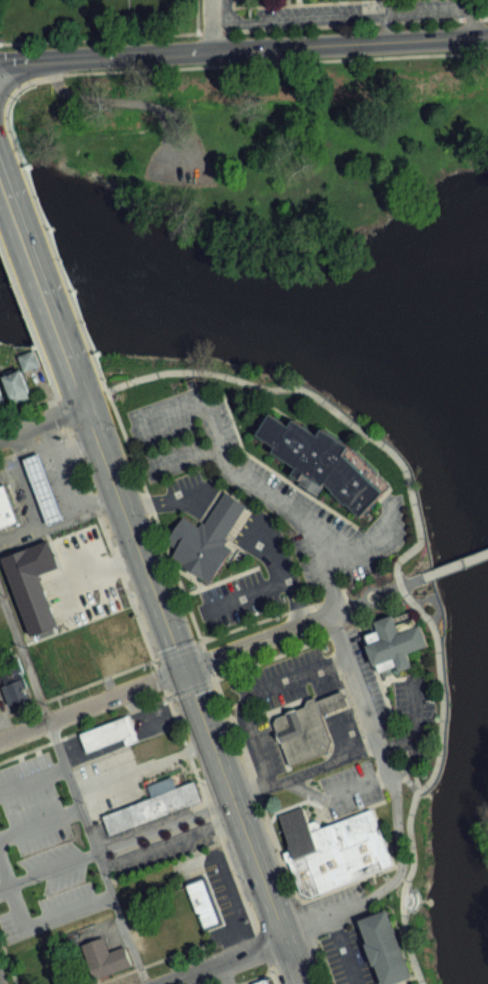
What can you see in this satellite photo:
road: (230, 3)
road: (478, 8)
road: (459, 9)
road: (194, 16)
road: (483, 16)
road: (470, 18)
road: (209, 24)
road: (239, 29)
road: (243, 48)
road: (251, 62)
road: (9, 77)
road: (9, 94)
road: (45, 235)
road: (36, 274)
river: (242, 306)
road: (24, 313)
road: (99, 377)
building: (16, 387)
building: (1, 398)
road: (26, 403)
road: (42, 420)
parking lot: (183, 421)
road: (212, 428)
river: (465, 431)
road: (32, 444)
parking lot: (177, 454)
building: (322, 462)
parking lot: (181, 480)
building: (42, 489)
gas station: (42, 489)
road: (169, 499)
building: (5, 509)
road: (225, 509)
road: (297, 515)
parking lot: (330, 532)
building: (204, 536)
road: (278, 562)
road: (455, 564)
road: (394, 566)
road: (97, 569)
building: (30, 586)
road: (245, 593)
road: (374, 593)
parking lot: (236, 598)
road: (434, 600)
building: (0, 612)
road: (256, 640)
building: (392, 643)
road: (164, 654)
building: (74, 669)
traffic signals: (184, 669)
building: (46, 676)
parking lot: (366, 676)
road: (186, 678)
road: (160, 680)
road: (215, 687)
road: (380, 687)
building: (14, 688)
road: (249, 693)
parking lot: (282, 694)
road: (166, 695)
building: (0, 697)
parking lot: (412, 698)
road: (91, 703)
road: (412, 725)
building: (300, 732)
building: (107, 733)
road: (375, 740)
parking lot: (267, 743)
building: (154, 746)
parking lot: (418, 750)
road: (303, 771)
road: (32, 779)
parking lot: (349, 786)
road: (70, 787)
road: (334, 793)
building: (151, 807)
road: (39, 822)
road: (162, 825)
river: (456, 835)
road: (168, 840)
building: (331, 849)
road: (50, 868)
road: (3, 886)
fountain: (407, 898)
building: (203, 905)
road: (343, 909)
road: (35, 922)
building: (382, 948)
road: (343, 950)
road: (171, 953)
building: (102, 958)
road: (224, 960)
road: (7, 963)
road: (252, 978)
building: (260, 982)

